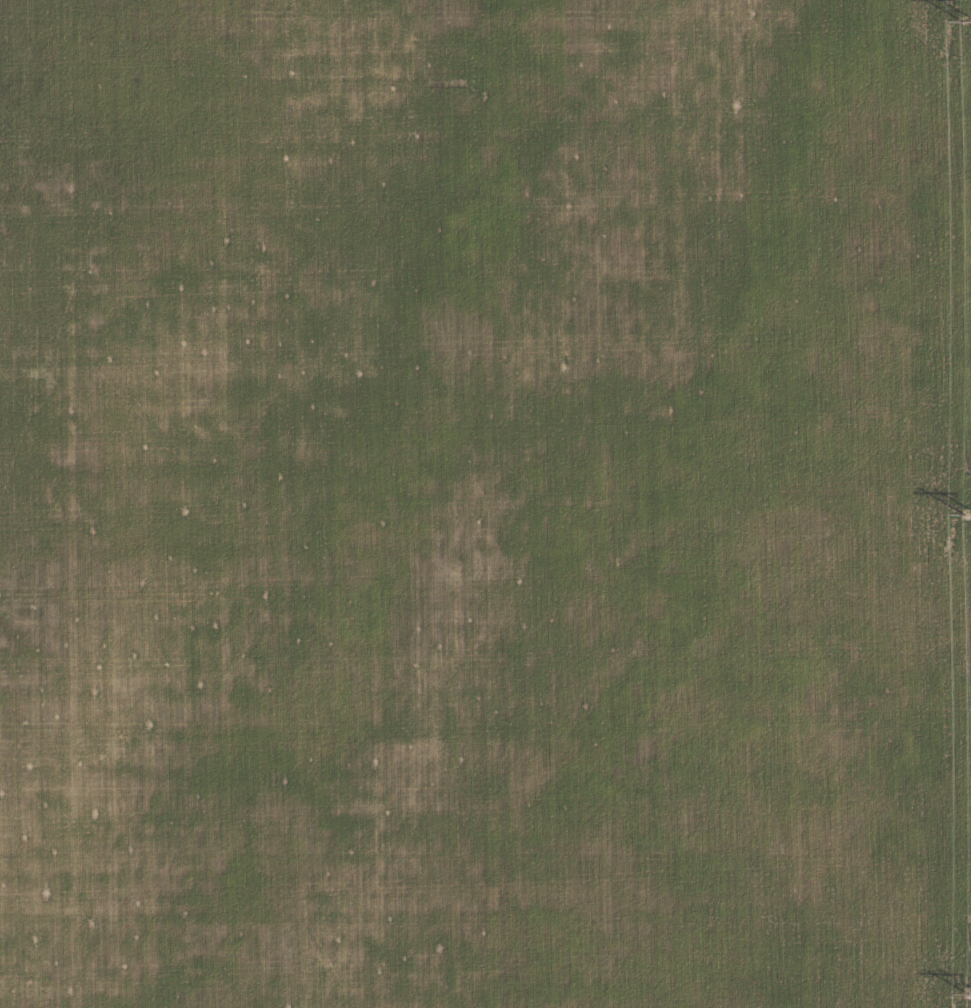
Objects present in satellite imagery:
power tower: (970, 21)

